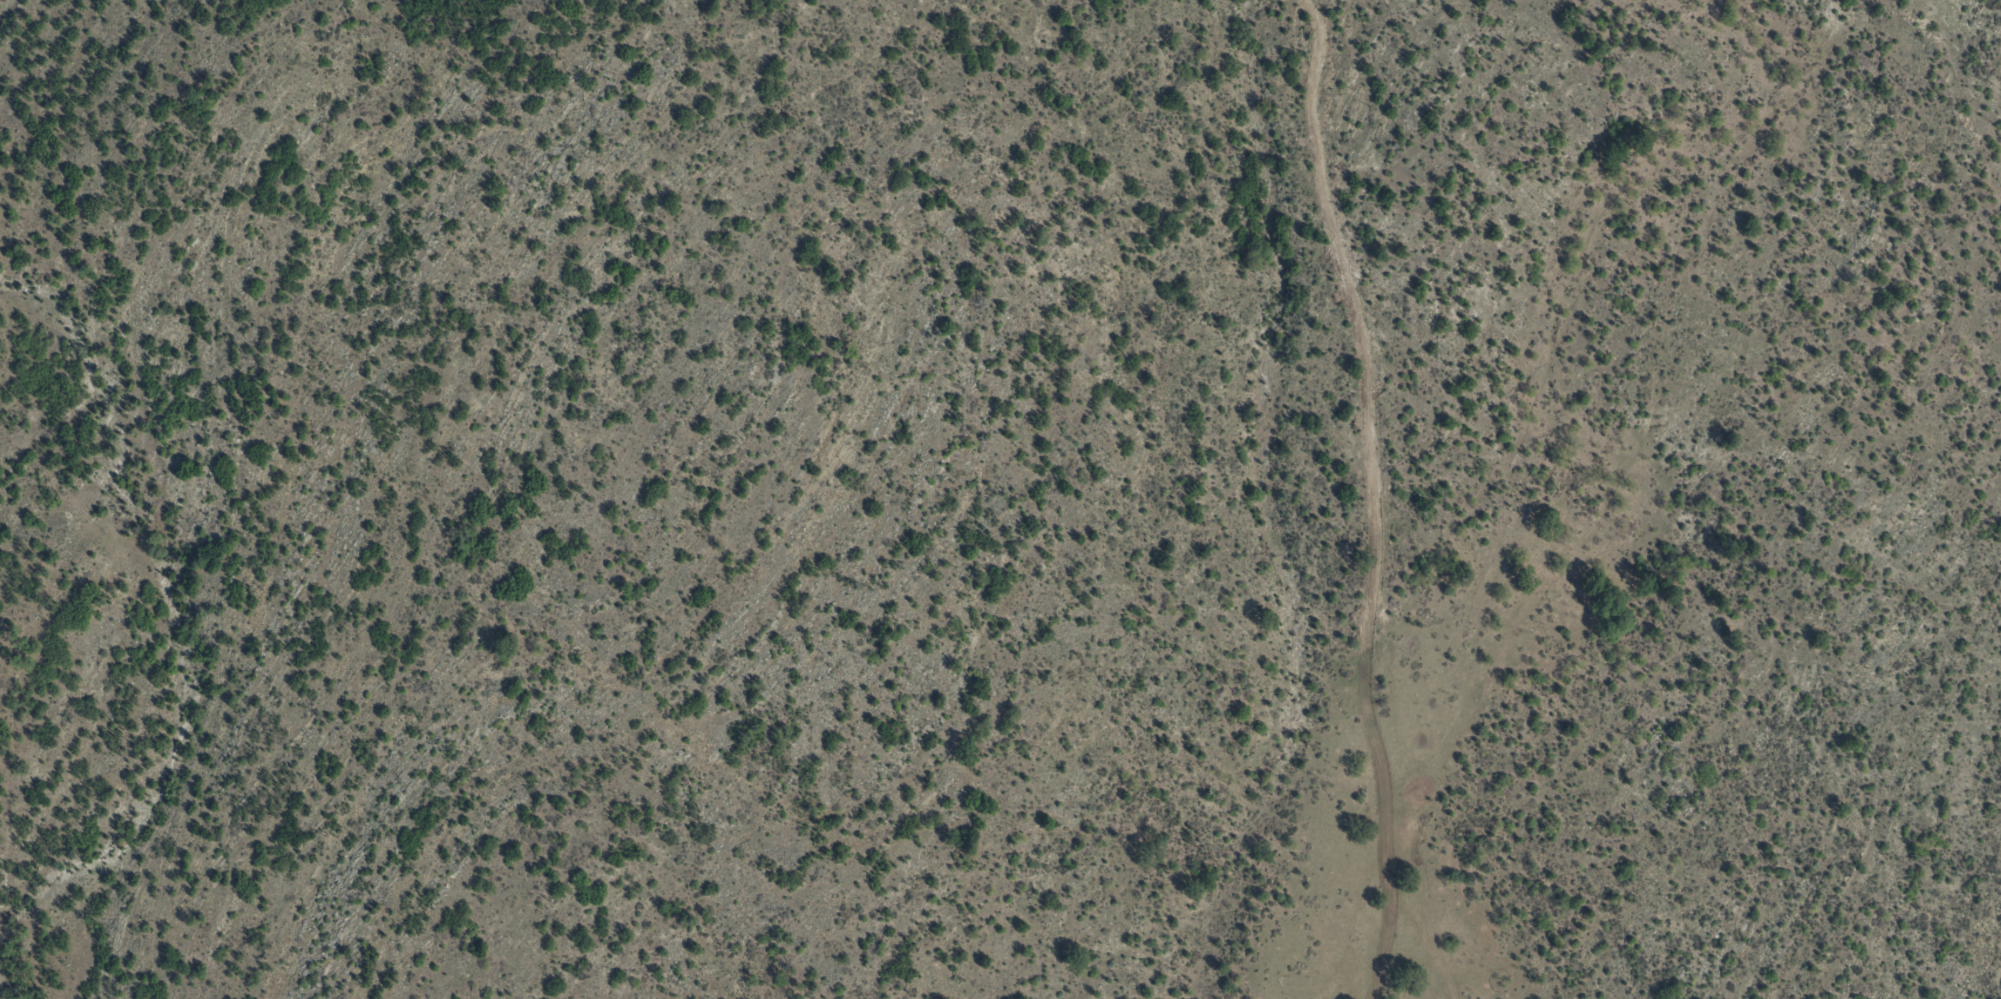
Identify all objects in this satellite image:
road: (1573, 459)

